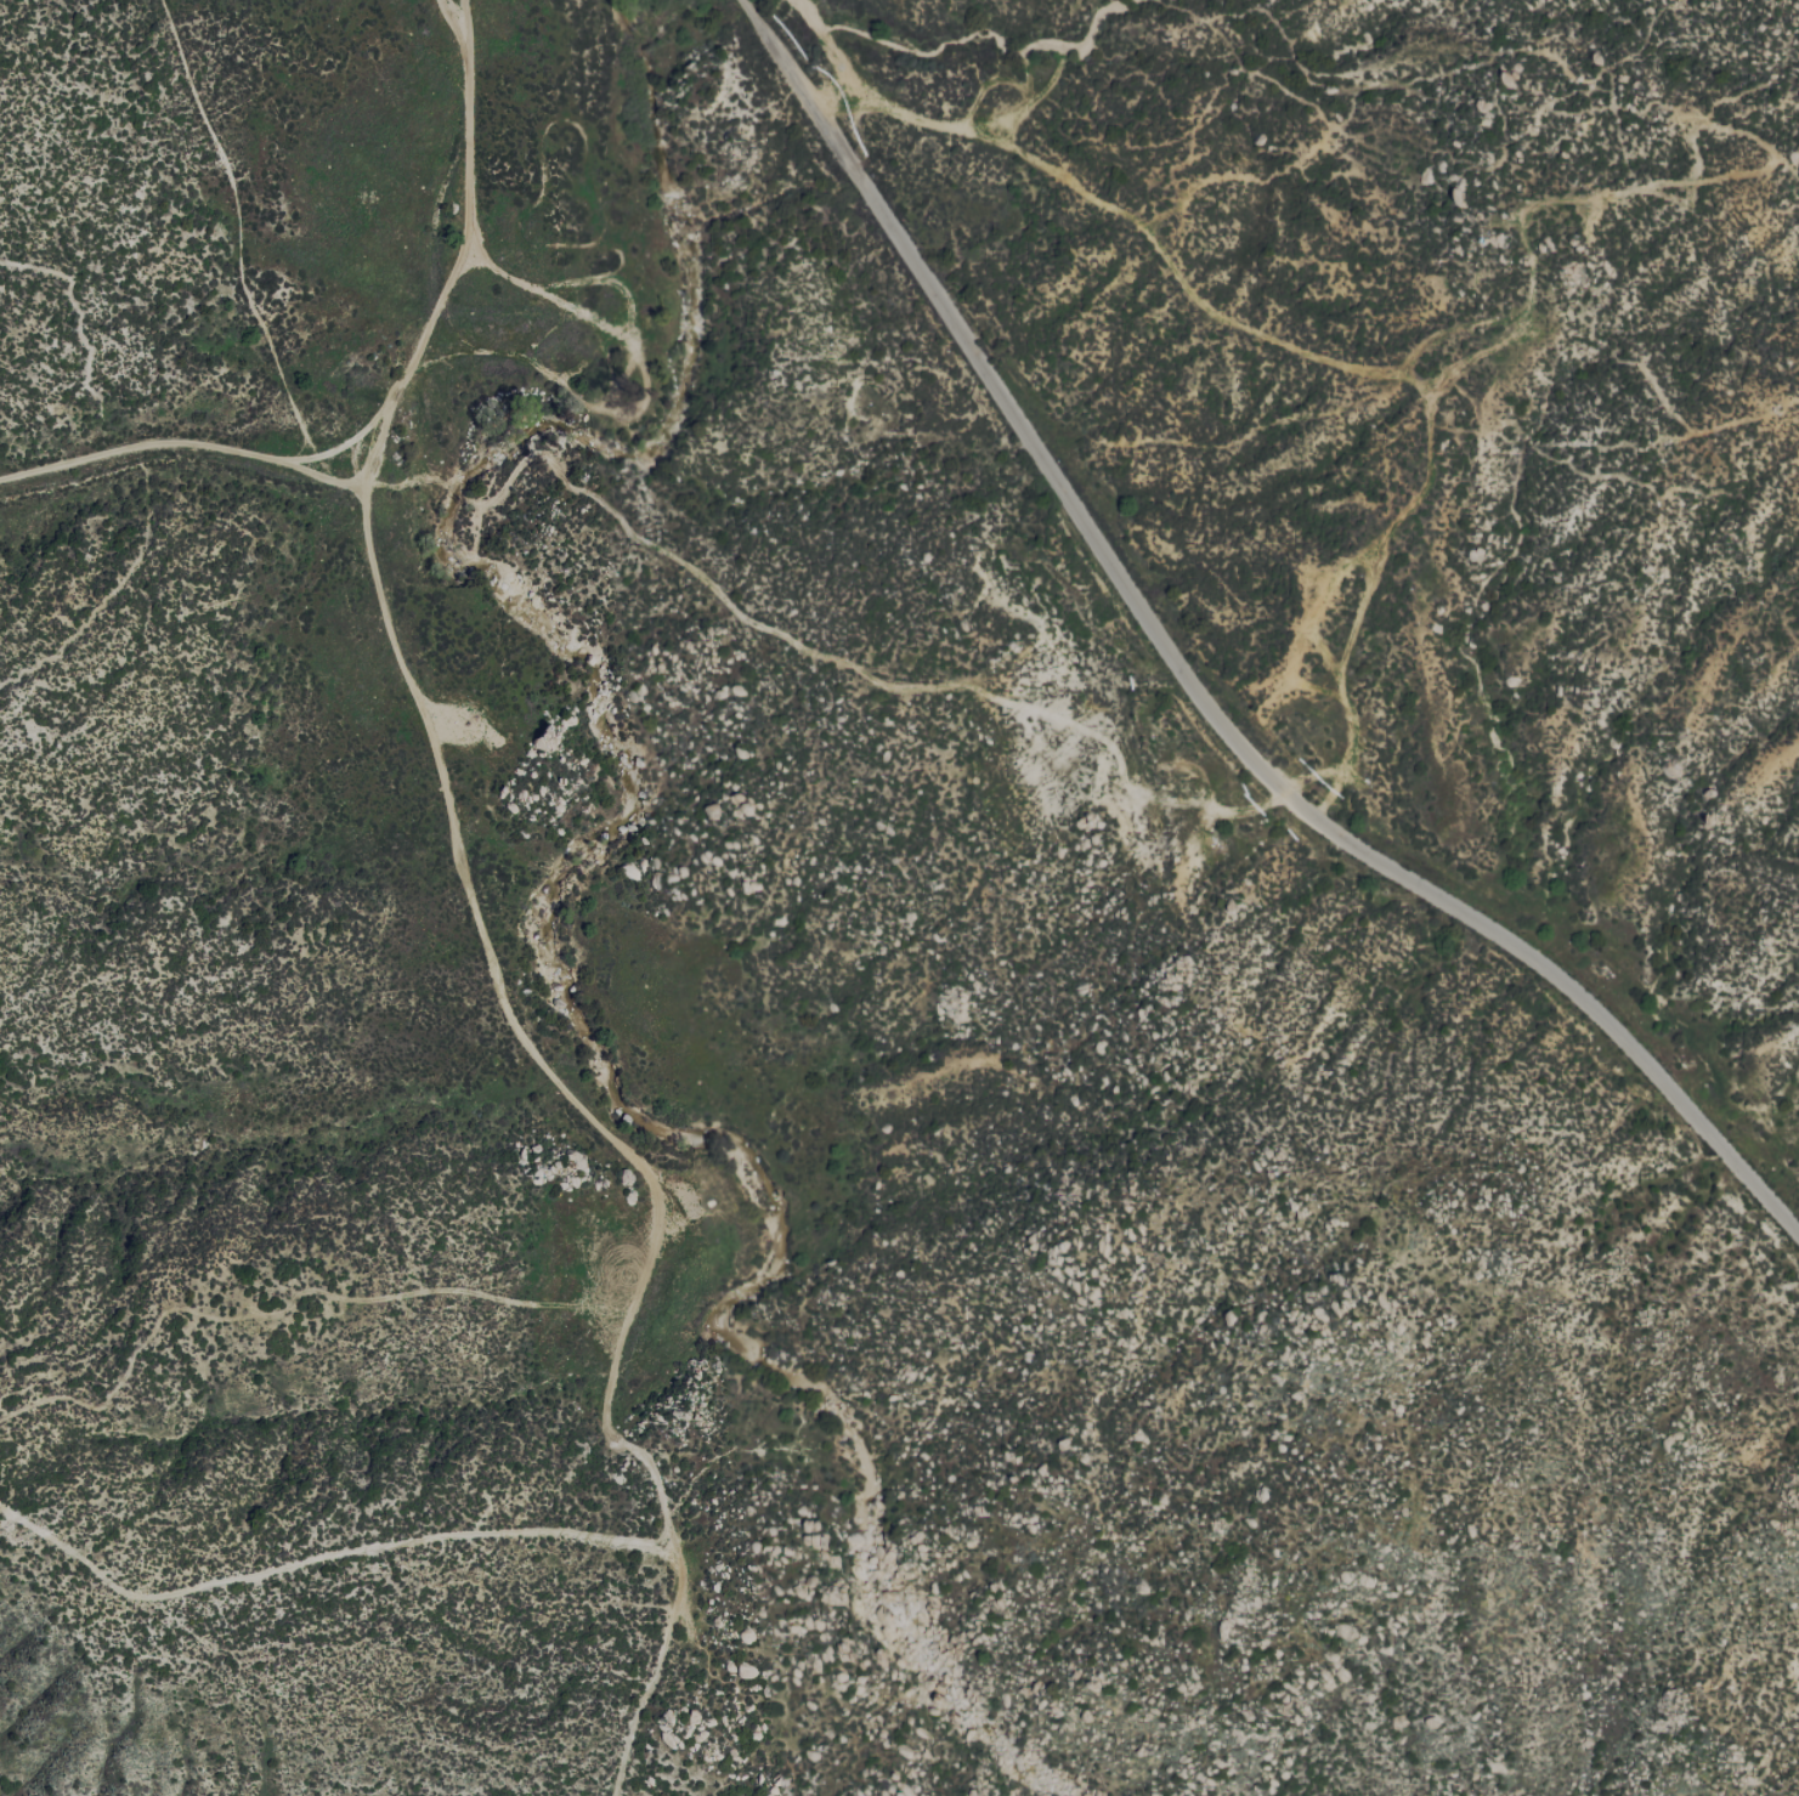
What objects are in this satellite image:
road: (380, 421)
road: (1194, 687)

